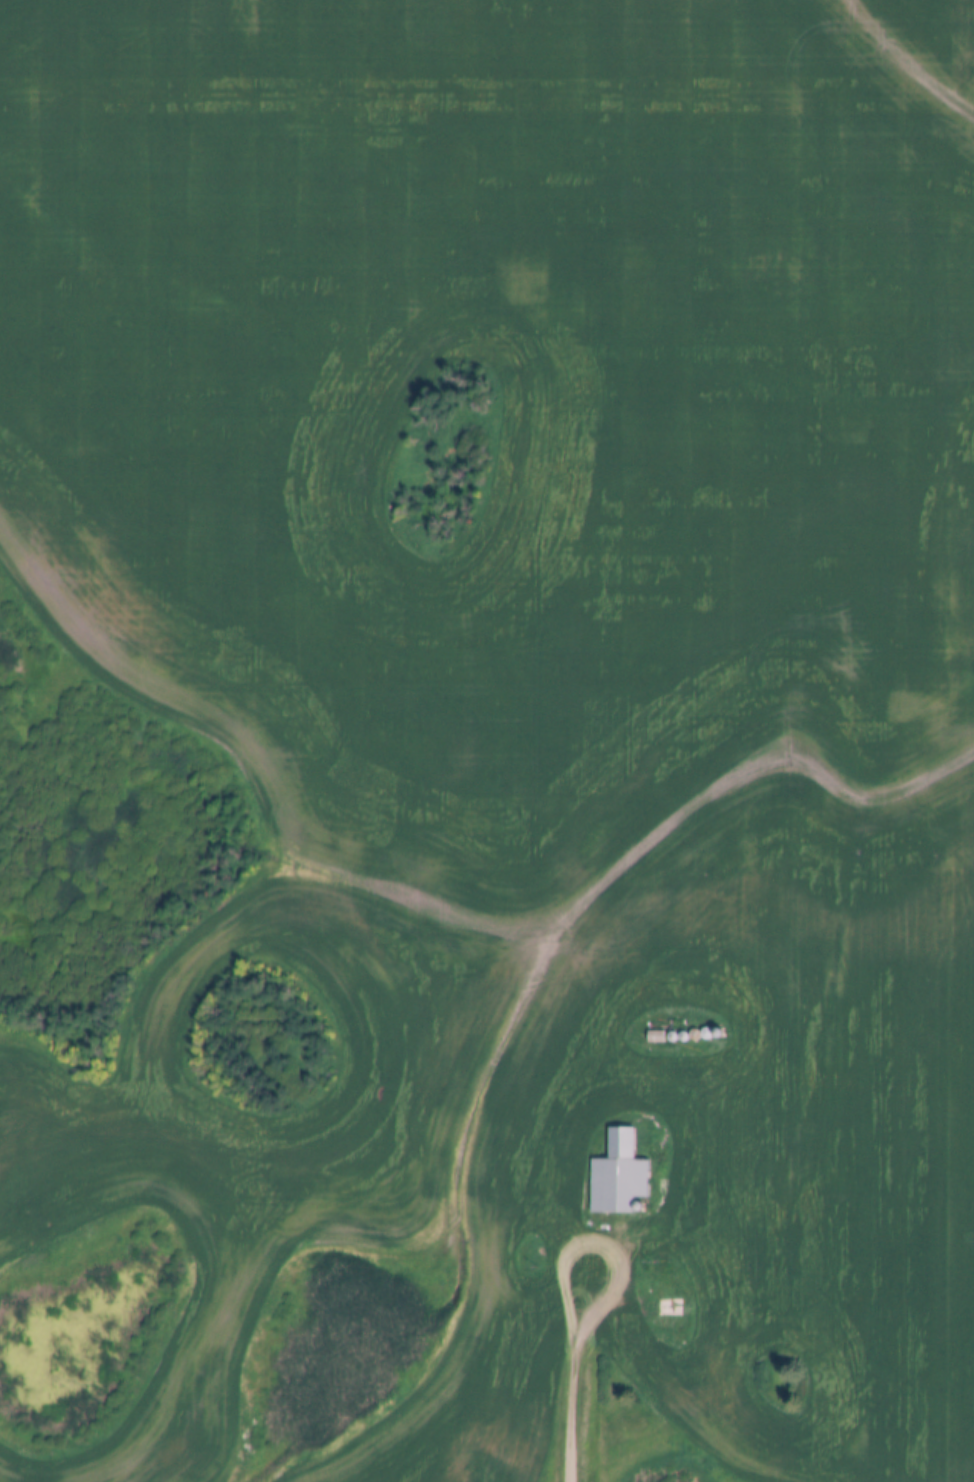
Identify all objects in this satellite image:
building: (657, 1035)
building: (620, 1173)
building: (664, 1327)
road: (577, 1376)

